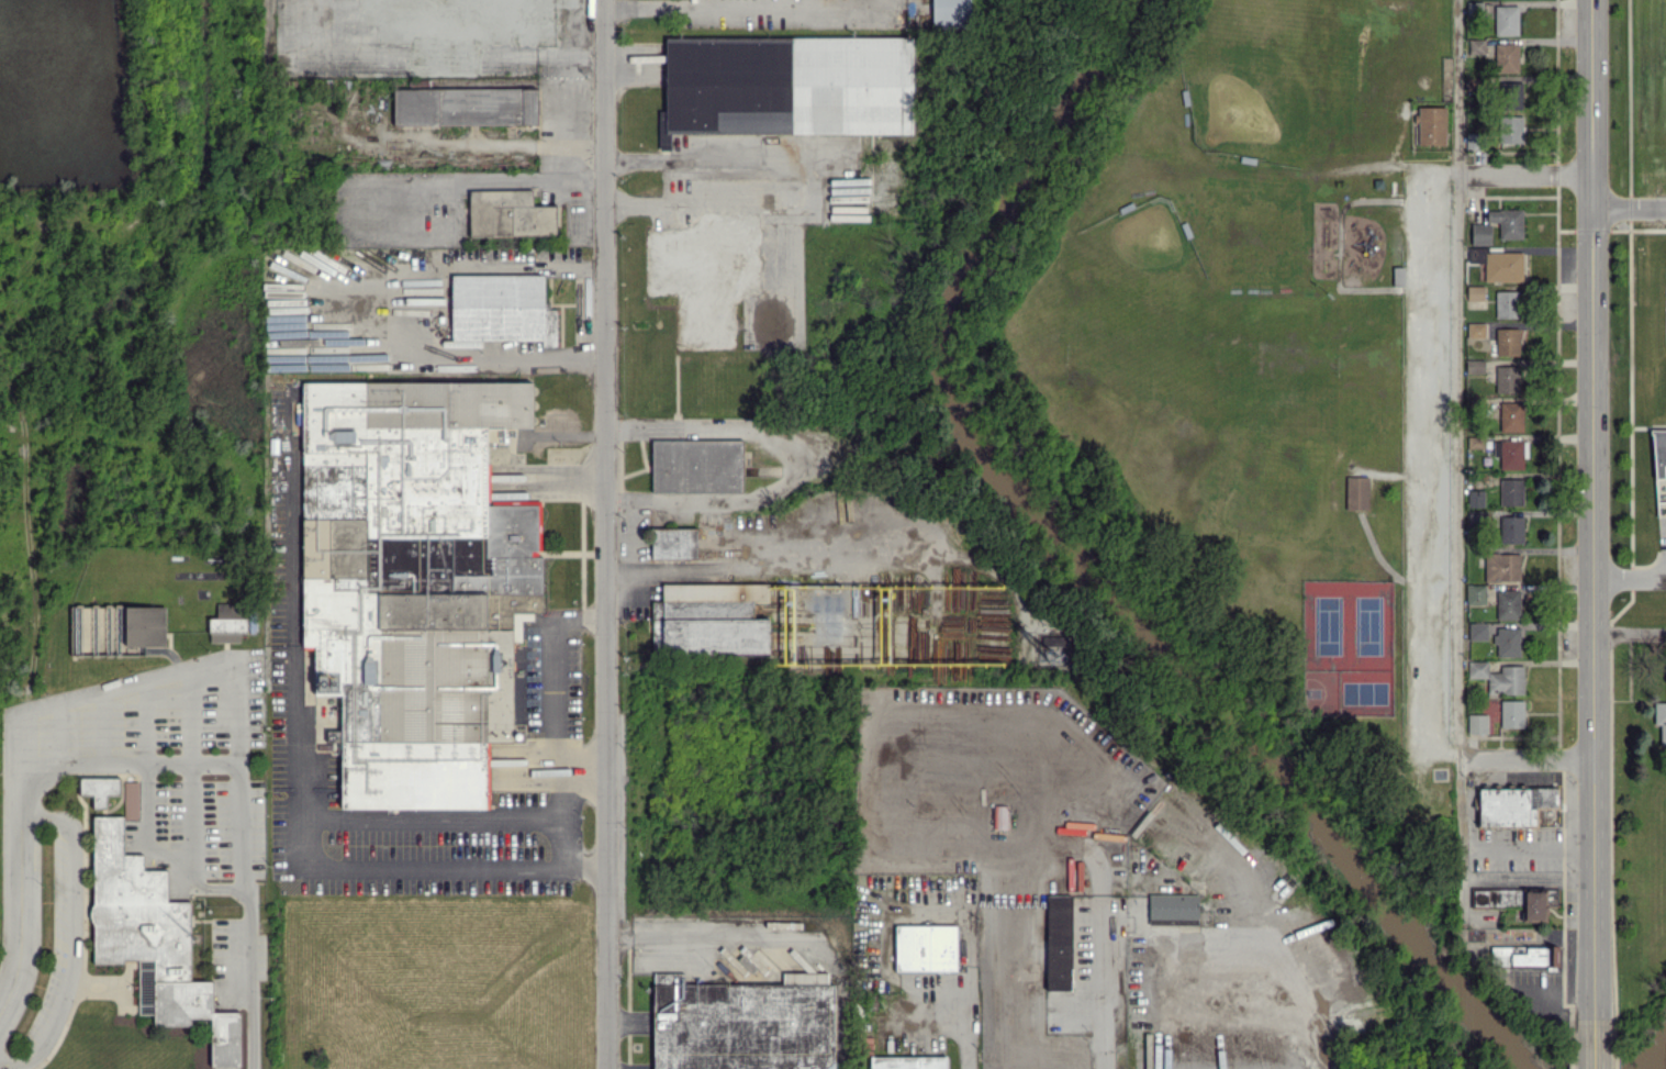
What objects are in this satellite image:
building: (950, 13)
building: (1506, 20)
building: (1475, 46)
road: (424, 51)
building: (1506, 57)
building: (787, 85)
building: (1508, 92)
building: (465, 105)
building: (1431, 125)
building: (1510, 129)
building: (662, 134)
road: (512, 145)
road: (709, 163)
road: (1523, 175)
road: (479, 179)
road: (687, 204)
road: (1628, 208)
building: (508, 214)
building: (1507, 222)
building: (1480, 233)
building: (1498, 264)
building: (703, 276)
building: (1474, 292)
building: (1507, 303)
building: (501, 308)
building: (1476, 330)
building: (1507, 341)
parking lot: (1650, 348)
road: (474, 358)
road: (564, 359)
building: (1474, 366)
building: (1506, 378)
building: (1510, 416)
building: (1658, 452)
building: (1510, 453)
road: (1457, 459)
road: (793, 464)
building: (696, 466)
road: (1432, 466)
road: (569, 480)
building: (1510, 491)
building: (1356, 492)
building: (1475, 498)
road: (1591, 510)
building: (1511, 528)
road: (605, 534)
building: (673, 543)
building: (1501, 566)
river: (1078, 570)
road: (1629, 577)
building: (412, 579)
building: (1475, 593)
building: (1507, 603)
building: (709, 619)
building: (227, 622)
park: (1348, 624)
building: (145, 625)
building: (1477, 631)
building: (1507, 642)
building: (1050, 643)
road: (172, 672)
building: (1498, 677)
road: (552, 690)
park: (1348, 692)
building: (1511, 713)
road: (190, 714)
road: (895, 714)
building: (1661, 720)
road: (146, 721)
building: (1476, 723)
road: (103, 726)
road: (1525, 760)
road: (165, 761)
building: (507, 773)
building: (99, 789)
road: (284, 797)
building: (131, 799)
building: (1511, 804)
road: (557, 814)
building: (998, 816)
road: (422, 820)
road: (1014, 853)
building: (1519, 900)
building: (1172, 905)
road: (65, 939)
building: (152, 939)
building: (1058, 942)
building: (925, 947)
building: (1523, 955)
road: (1294, 988)
road: (1096, 1021)
building: (742, 1023)
road: (962, 1042)
road: (1589, 1045)
river: (1654, 1055)
building: (908, 1062)

